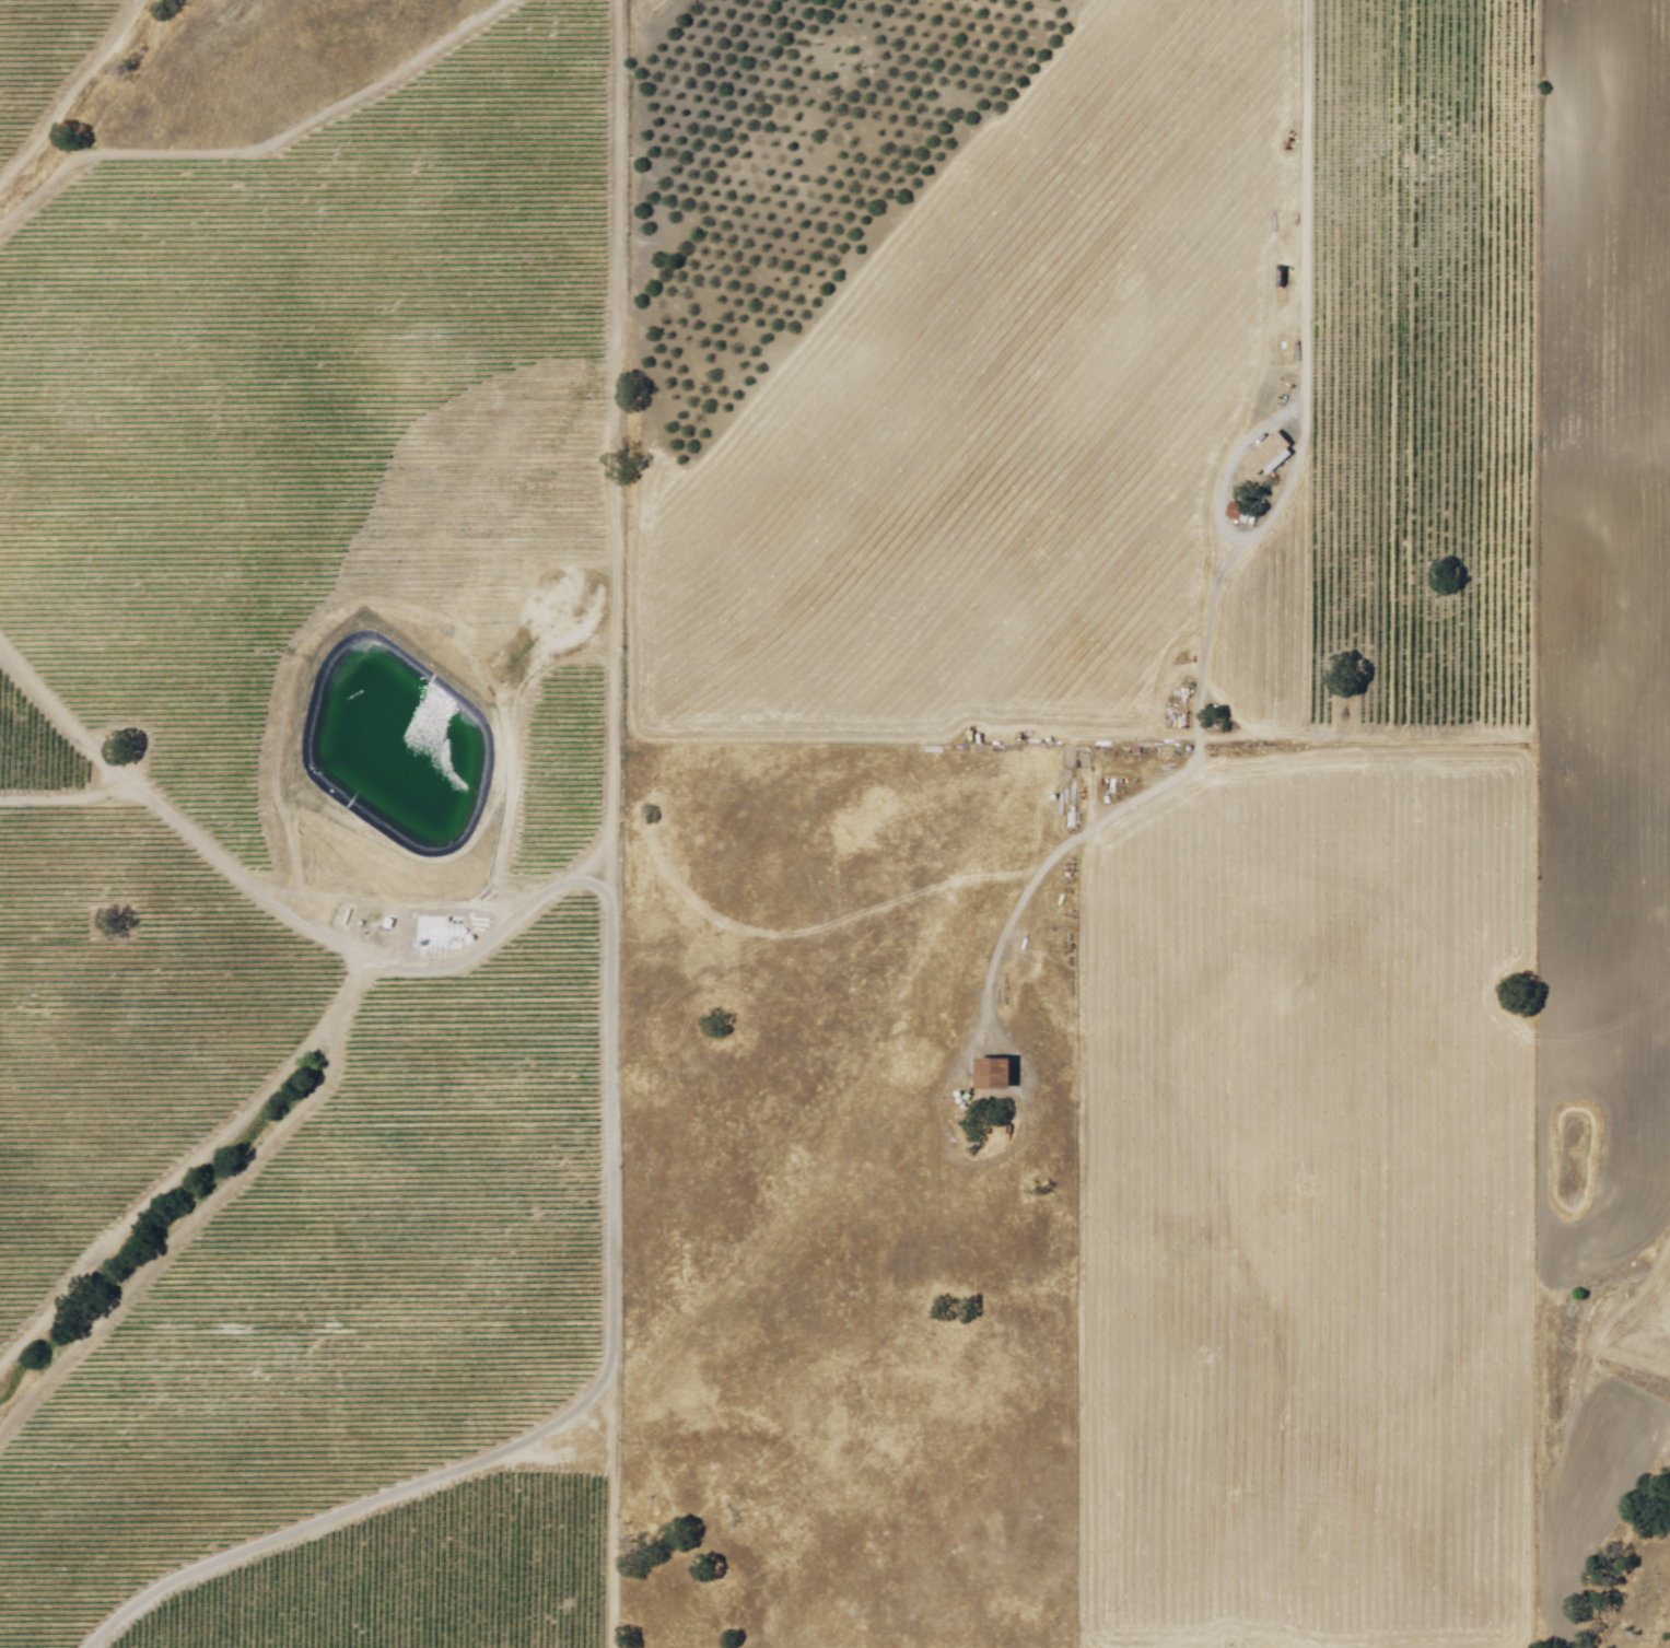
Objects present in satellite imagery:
building: (1268, 454)

